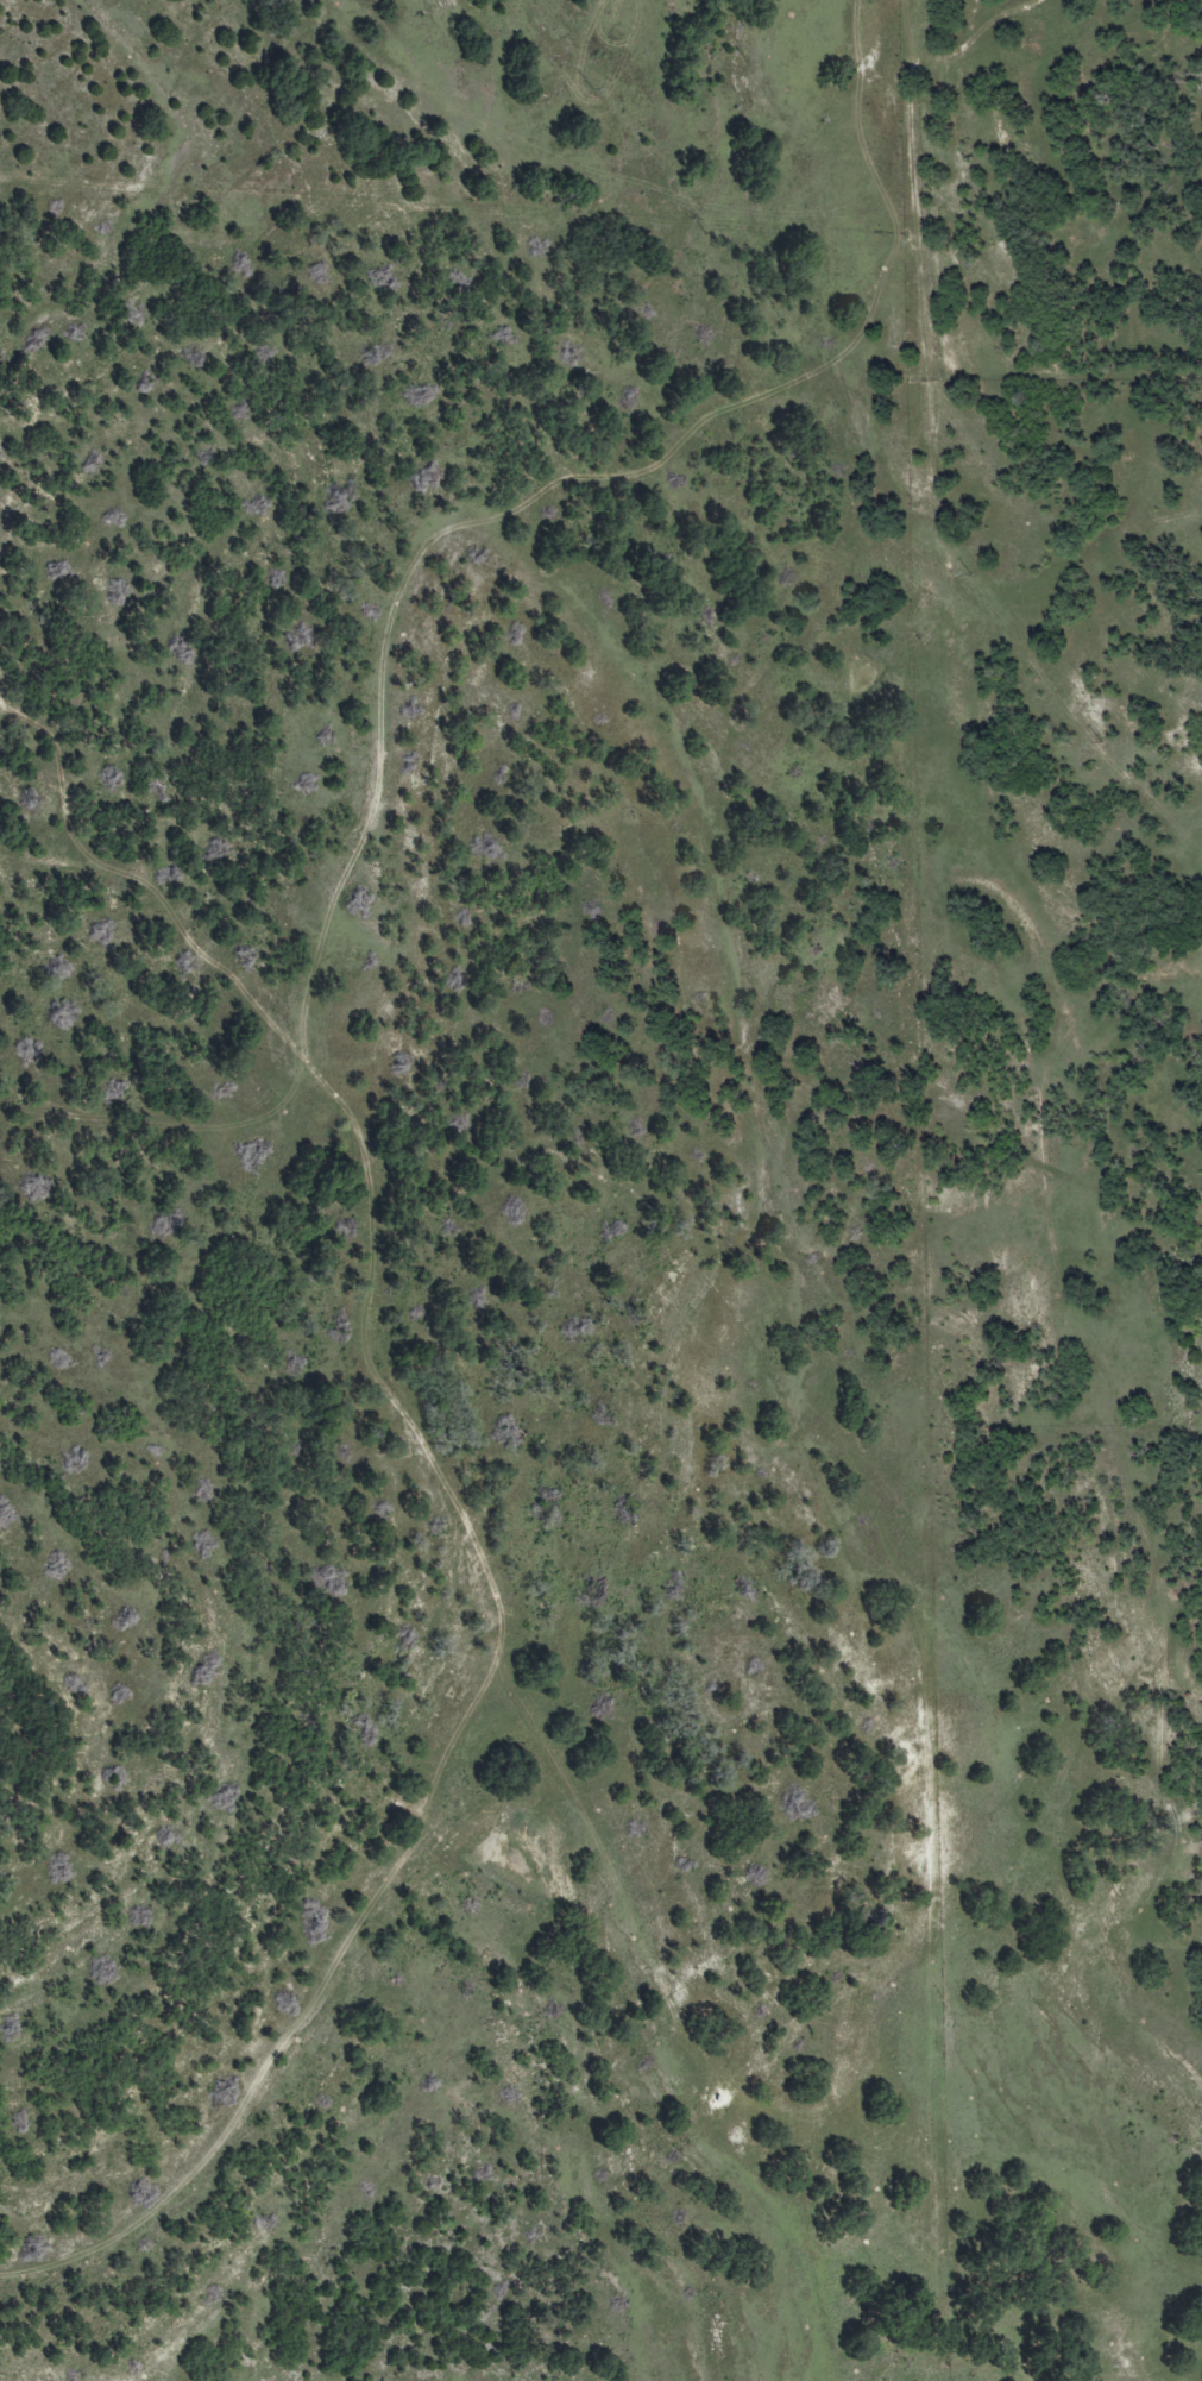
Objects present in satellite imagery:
road: (1119, 1001)
road: (1065, 1236)

